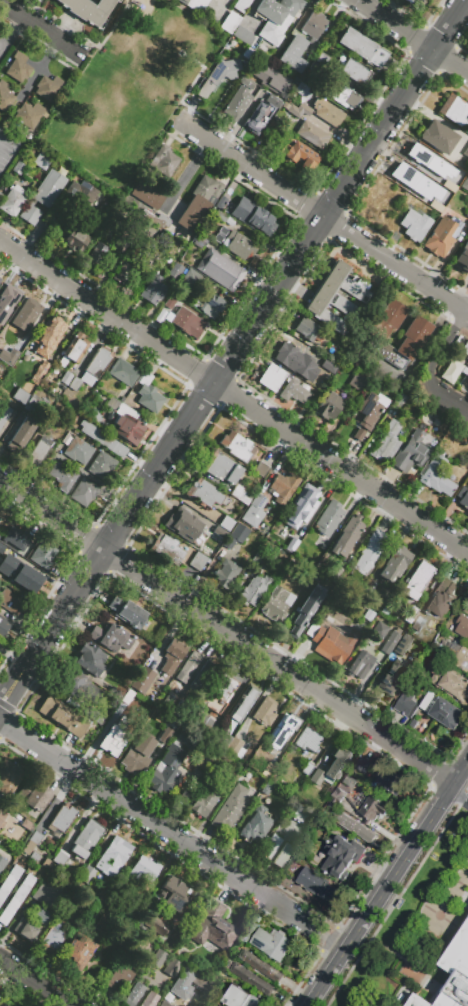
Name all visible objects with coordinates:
building: (225, 0)
building: (184, 1)
building: (413, 2)
building: (196, 5)
building: (241, 5)
building: (89, 9)
building: (275, 18)
building: (230, 22)
building: (312, 24)
road: (41, 27)
road: (11, 32)
building: (241, 35)
road: (104, 36)
road: (413, 36)
building: (362, 47)
building: (293, 53)
road: (191, 58)
building: (321, 58)
building: (18, 67)
building: (354, 71)
building: (218, 75)
road: (33, 76)
building: (273, 81)
building: (246, 82)
building: (49, 88)
park: (129, 90)
road: (186, 92)
building: (340, 93)
building: (5, 96)
building: (271, 100)
building: (236, 103)
road: (395, 108)
building: (298, 110)
building: (454, 110)
building: (329, 113)
building: (29, 115)
building: (258, 116)
road: (173, 117)
building: (270, 128)
building: (311, 135)
building: (437, 136)
road: (4, 137)
building: (465, 152)
building: (419, 155)
building: (299, 156)
building: (41, 160)
building: (164, 161)
road: (250, 167)
building: (18, 168)
building: (465, 183)
building: (418, 188)
building: (440, 190)
building: (83, 191)
building: (148, 195)
building: (42, 198)
building: (12, 201)
building: (199, 202)
building: (220, 202)
building: (428, 210)
building: (467, 215)
building: (253, 216)
building: (224, 218)
building: (156, 219)
building: (415, 225)
building: (441, 236)
building: (75, 240)
building: (186, 241)
building: (199, 241)
building: (238, 244)
building: (171, 246)
building: (97, 254)
building: (462, 257)
road: (396, 263)
building: (220, 270)
building: (124, 274)
building: (0, 279)
building: (191, 280)
building: (153, 289)
building: (336, 298)
building: (7, 299)
building: (169, 302)
building: (211, 306)
building: (24, 317)
road: (463, 319)
building: (186, 322)
building: (309, 330)
building: (415, 335)
building: (49, 336)
building: (464, 348)
building: (74, 349)
building: (17, 351)
road: (441, 352)
building: (289, 357)
park: (456, 364)
building: (321, 365)
building: (92, 368)
building: (453, 370)
building: (123, 371)
building: (272, 377)
building: (66, 378)
building: (356, 380)
building: (295, 391)
building: (149, 394)
road: (446, 394)
building: (21, 396)
road: (234, 396)
building: (122, 399)
building: (400, 401)
building: (32, 404)
building: (329, 405)
building: (4, 412)
building: (367, 413)
building: (49, 423)
building: (128, 428)
building: (20, 435)
building: (103, 439)
road: (174, 442)
building: (385, 442)
building: (236, 445)
building: (78, 450)
building: (39, 451)
building: (411, 452)
building: (102, 465)
building: (222, 468)
building: (261, 469)
building: (436, 476)
building: (62, 477)
building: (282, 488)
building: (85, 491)
building: (205, 493)
building: (240, 495)
building: (464, 499)
building: (304, 500)
building: (254, 510)
building: (467, 513)
building: (0, 521)
building: (329, 521)
building: (228, 526)
building: (184, 531)
building: (265, 531)
building: (218, 537)
building: (238, 538)
building: (0, 540)
building: (347, 540)
building: (18, 541)
building: (296, 548)
building: (168, 550)
building: (45, 556)
building: (369, 558)
building: (312, 559)
building: (262, 561)
building: (199, 564)
building: (283, 566)
building: (396, 567)
building: (334, 574)
building: (227, 576)
building: (26, 579)
building: (418, 582)
building: (371, 589)
building: (254, 593)
building: (448, 595)
building: (352, 602)
building: (12, 604)
building: (276, 607)
building: (466, 607)
building: (125, 610)
building: (306, 614)
building: (369, 617)
building: (410, 618)
building: (442, 625)
building: (4, 627)
building: (463, 629)
building: (125, 630)
road: (226, 632)
building: (380, 633)
building: (109, 636)
building: (332, 641)
building: (391, 645)
building: (399, 654)
building: (174, 658)
building: (462, 660)
building: (361, 667)
building: (102, 668)
building: (189, 671)
building: (203, 679)
building: (144, 682)
building: (390, 685)
building: (225, 687)
road: (12, 688)
building: (80, 688)
building: (449, 688)
building: (169, 703)
building: (244, 706)
building: (403, 708)
building: (267, 714)
building: (448, 715)
building: (63, 718)
building: (200, 726)
building: (286, 730)
building: (115, 740)
building: (167, 740)
building: (189, 742)
building: (309, 742)
building: (224, 743)
building: (237, 750)
building: (139, 757)
building: (332, 758)
building: (273, 760)
building: (363, 768)
building: (168, 771)
building: (308, 771)
road: (465, 772)
road: (460, 773)
building: (312, 778)
building: (9, 780)
building: (231, 784)
building: (351, 784)
building: (393, 785)
building: (329, 792)
building: (35, 798)
building: (340, 799)
road: (457, 800)
building: (205, 806)
building: (232, 811)
building: (292, 811)
building: (375, 811)
building: (0, 812)
building: (302, 818)
building: (1, 821)
road: (152, 821)
building: (63, 823)
building: (351, 826)
building: (252, 827)
building: (26, 835)
building: (88, 839)
building: (33, 845)
building: (272, 848)
building: (341, 856)
building: (115, 857)
building: (35, 859)
building: (62, 860)
building: (282, 862)
road: (374, 864)
building: (2, 866)
building: (46, 866)
building: (52, 870)
building: (146, 872)
building: (88, 877)
building: (9, 884)
building: (319, 888)
road: (458, 888)
road: (380, 895)
building: (49, 897)
building: (174, 897)
building: (17, 901)
building: (401, 907)
road: (444, 909)
building: (125, 916)
building: (44, 918)
building: (77, 918)
building: (105, 924)
building: (155, 926)
building: (215, 930)
building: (27, 932)
building: (250, 934)
road: (324, 936)
building: (132, 939)
building: (53, 941)
building: (274, 947)
building: (78, 955)
building: (157, 961)
building: (102, 962)
building: (263, 969)
building: (173, 970)
building: (459, 974)
road: (36, 982)
building: (120, 982)
building: (254, 983)
building: (202, 987)
building: (171, 995)
building: (135, 996)
building: (242, 999)
building: (151, 1000)
building: (423, 1001)
building: (1, 1005)
building: (164, 1005)

